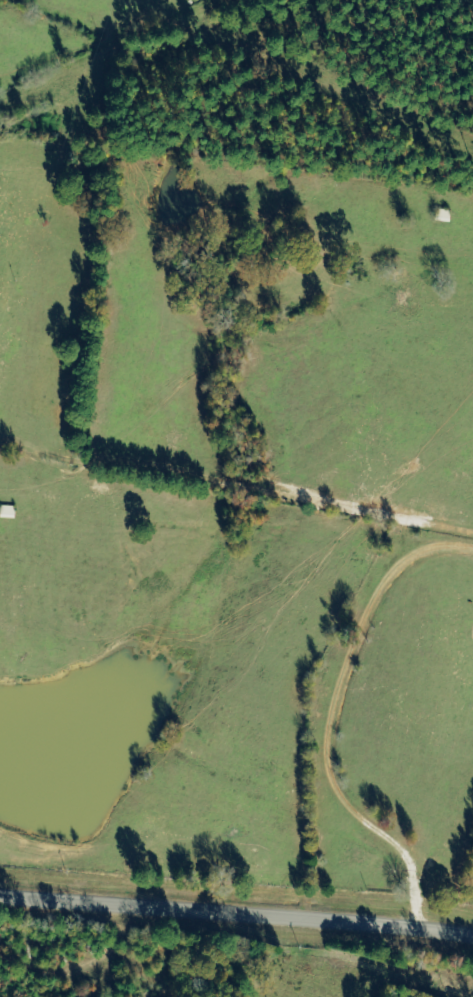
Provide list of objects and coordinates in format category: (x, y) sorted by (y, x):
road: (236, 911)

